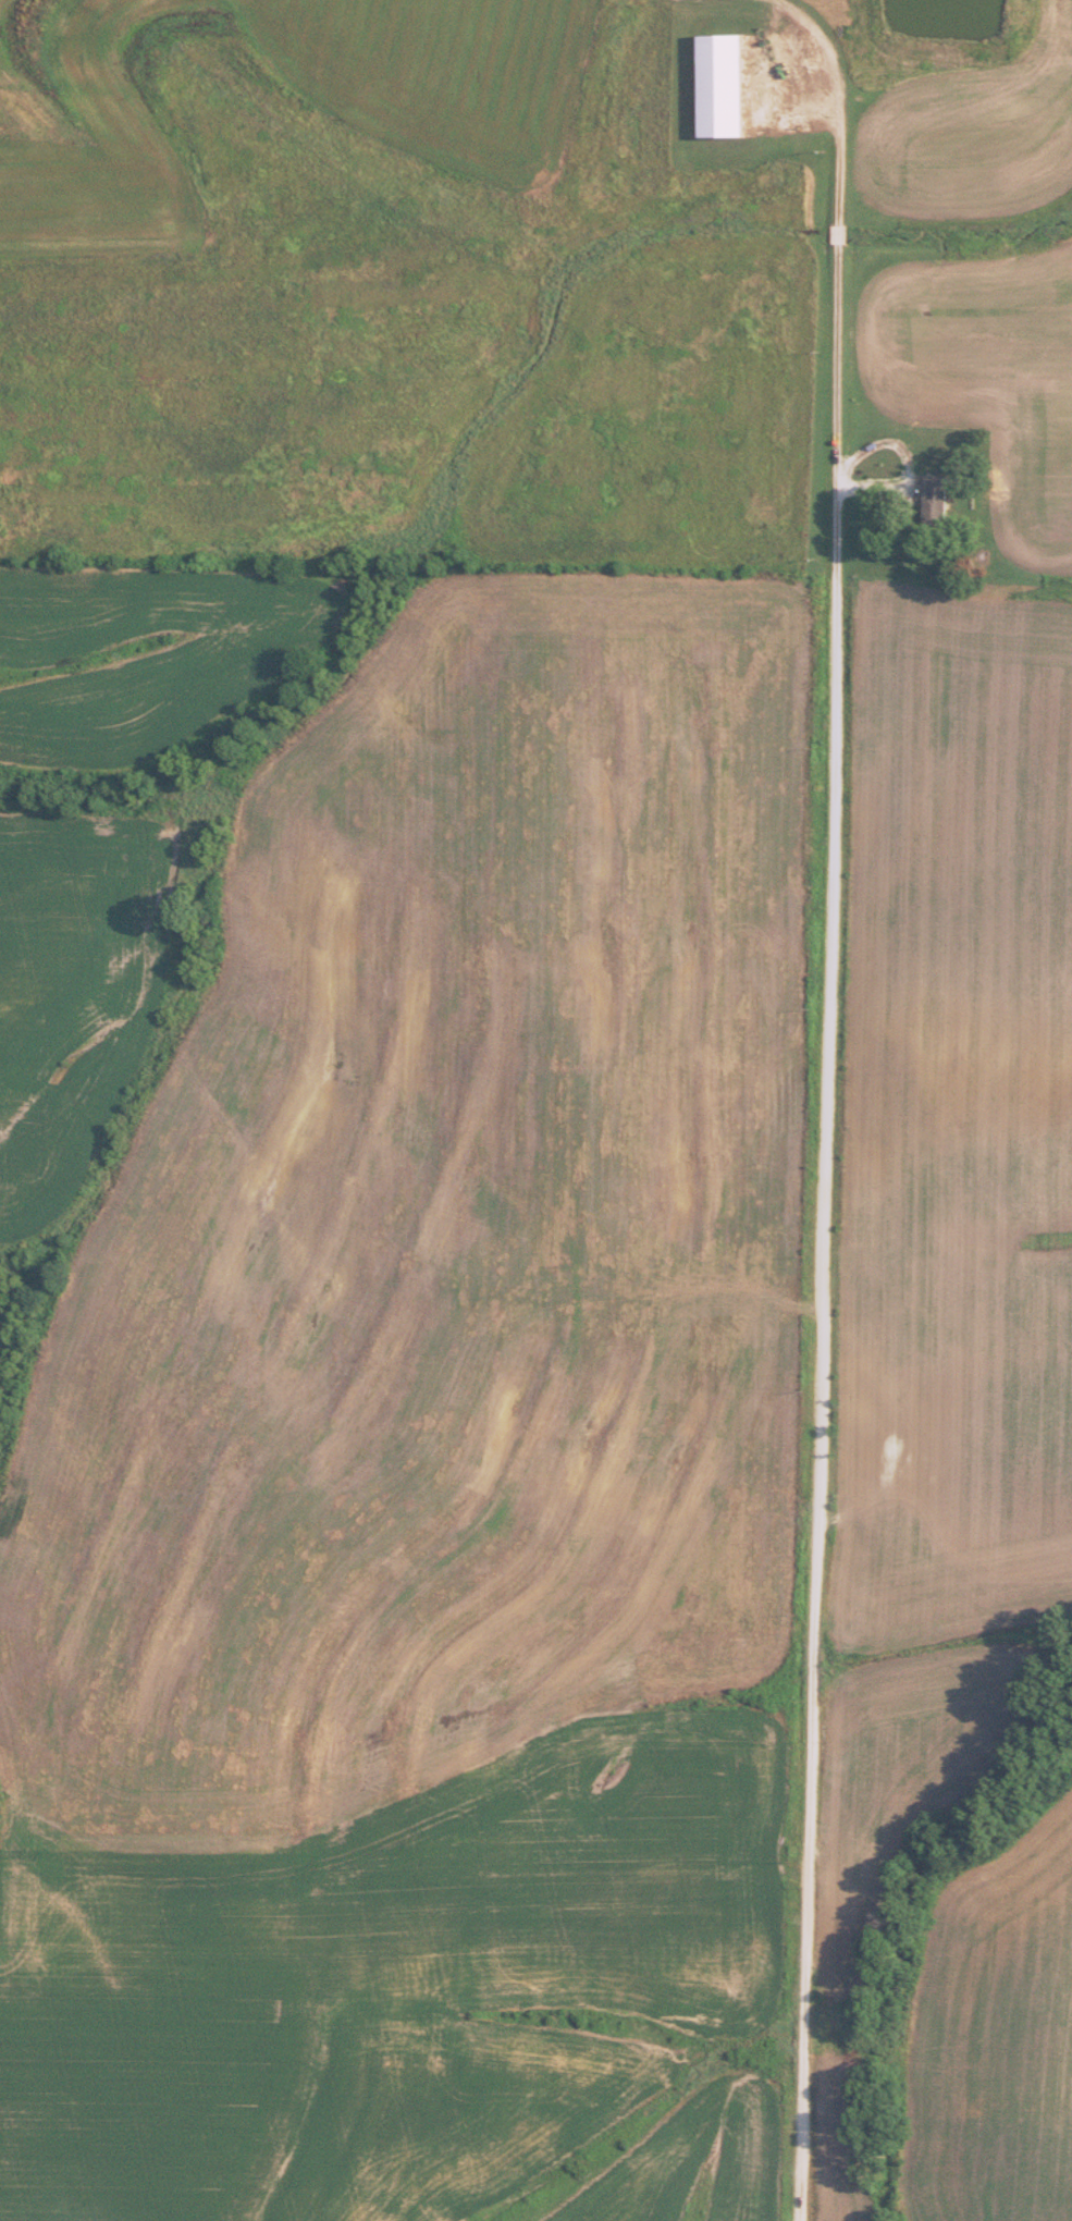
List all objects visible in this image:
building: (821, 102)
building: (938, 496)
road: (821, 1352)

